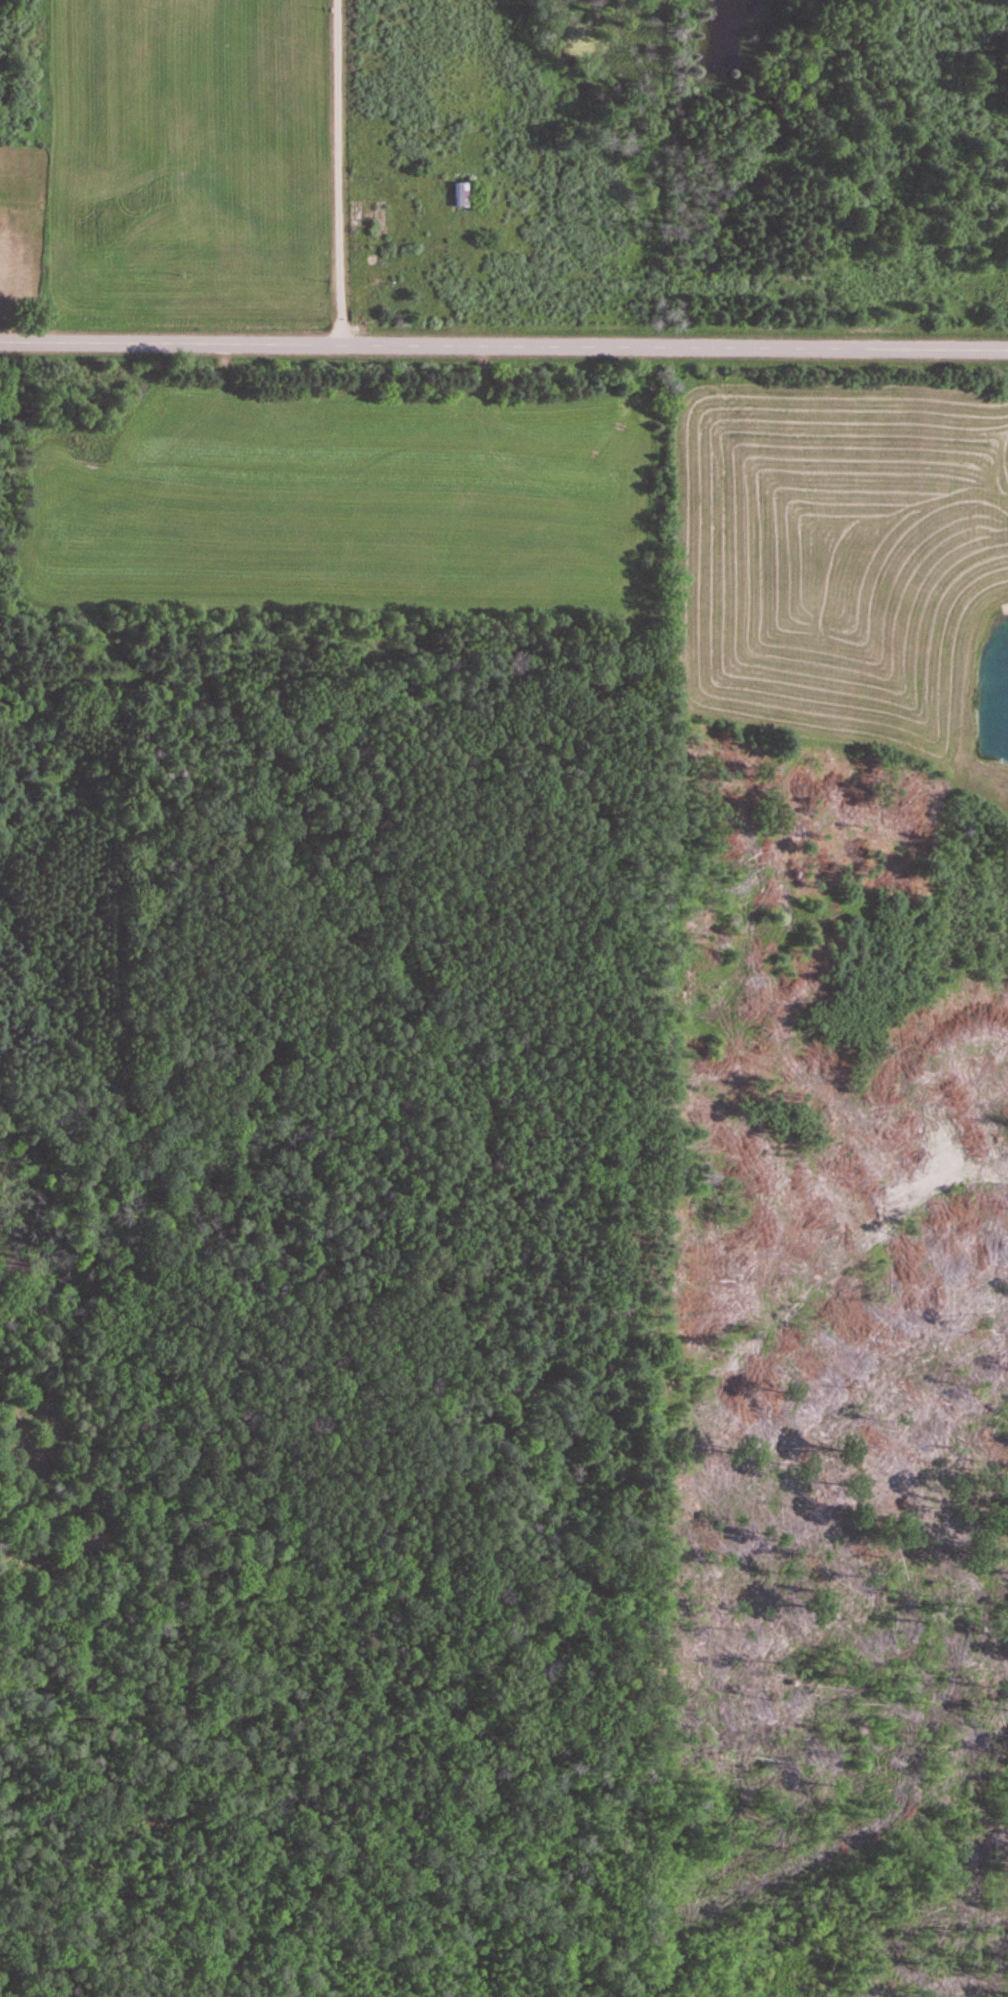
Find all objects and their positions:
road: (322, 172)
building: (458, 194)
road: (504, 344)

